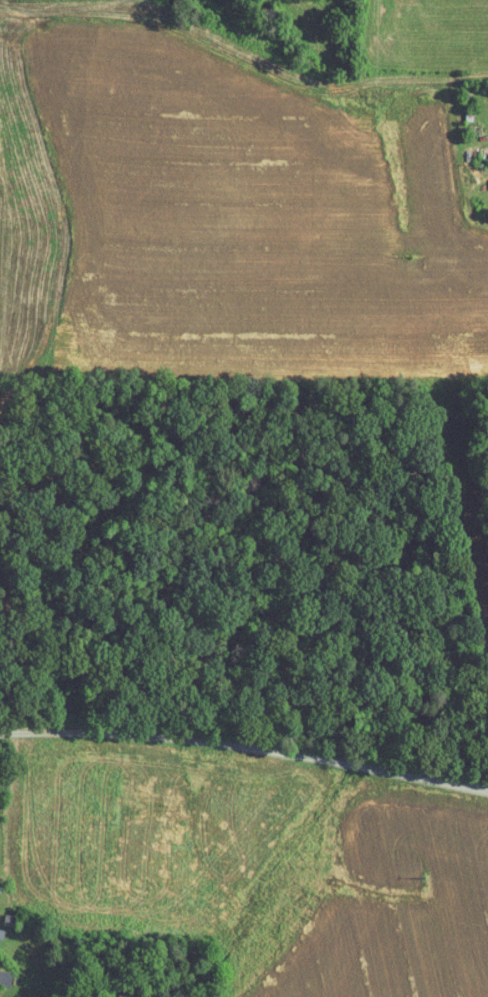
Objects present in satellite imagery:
building: (486, 154)
building: (484, 178)
road: (245, 746)
building: (0, 967)

